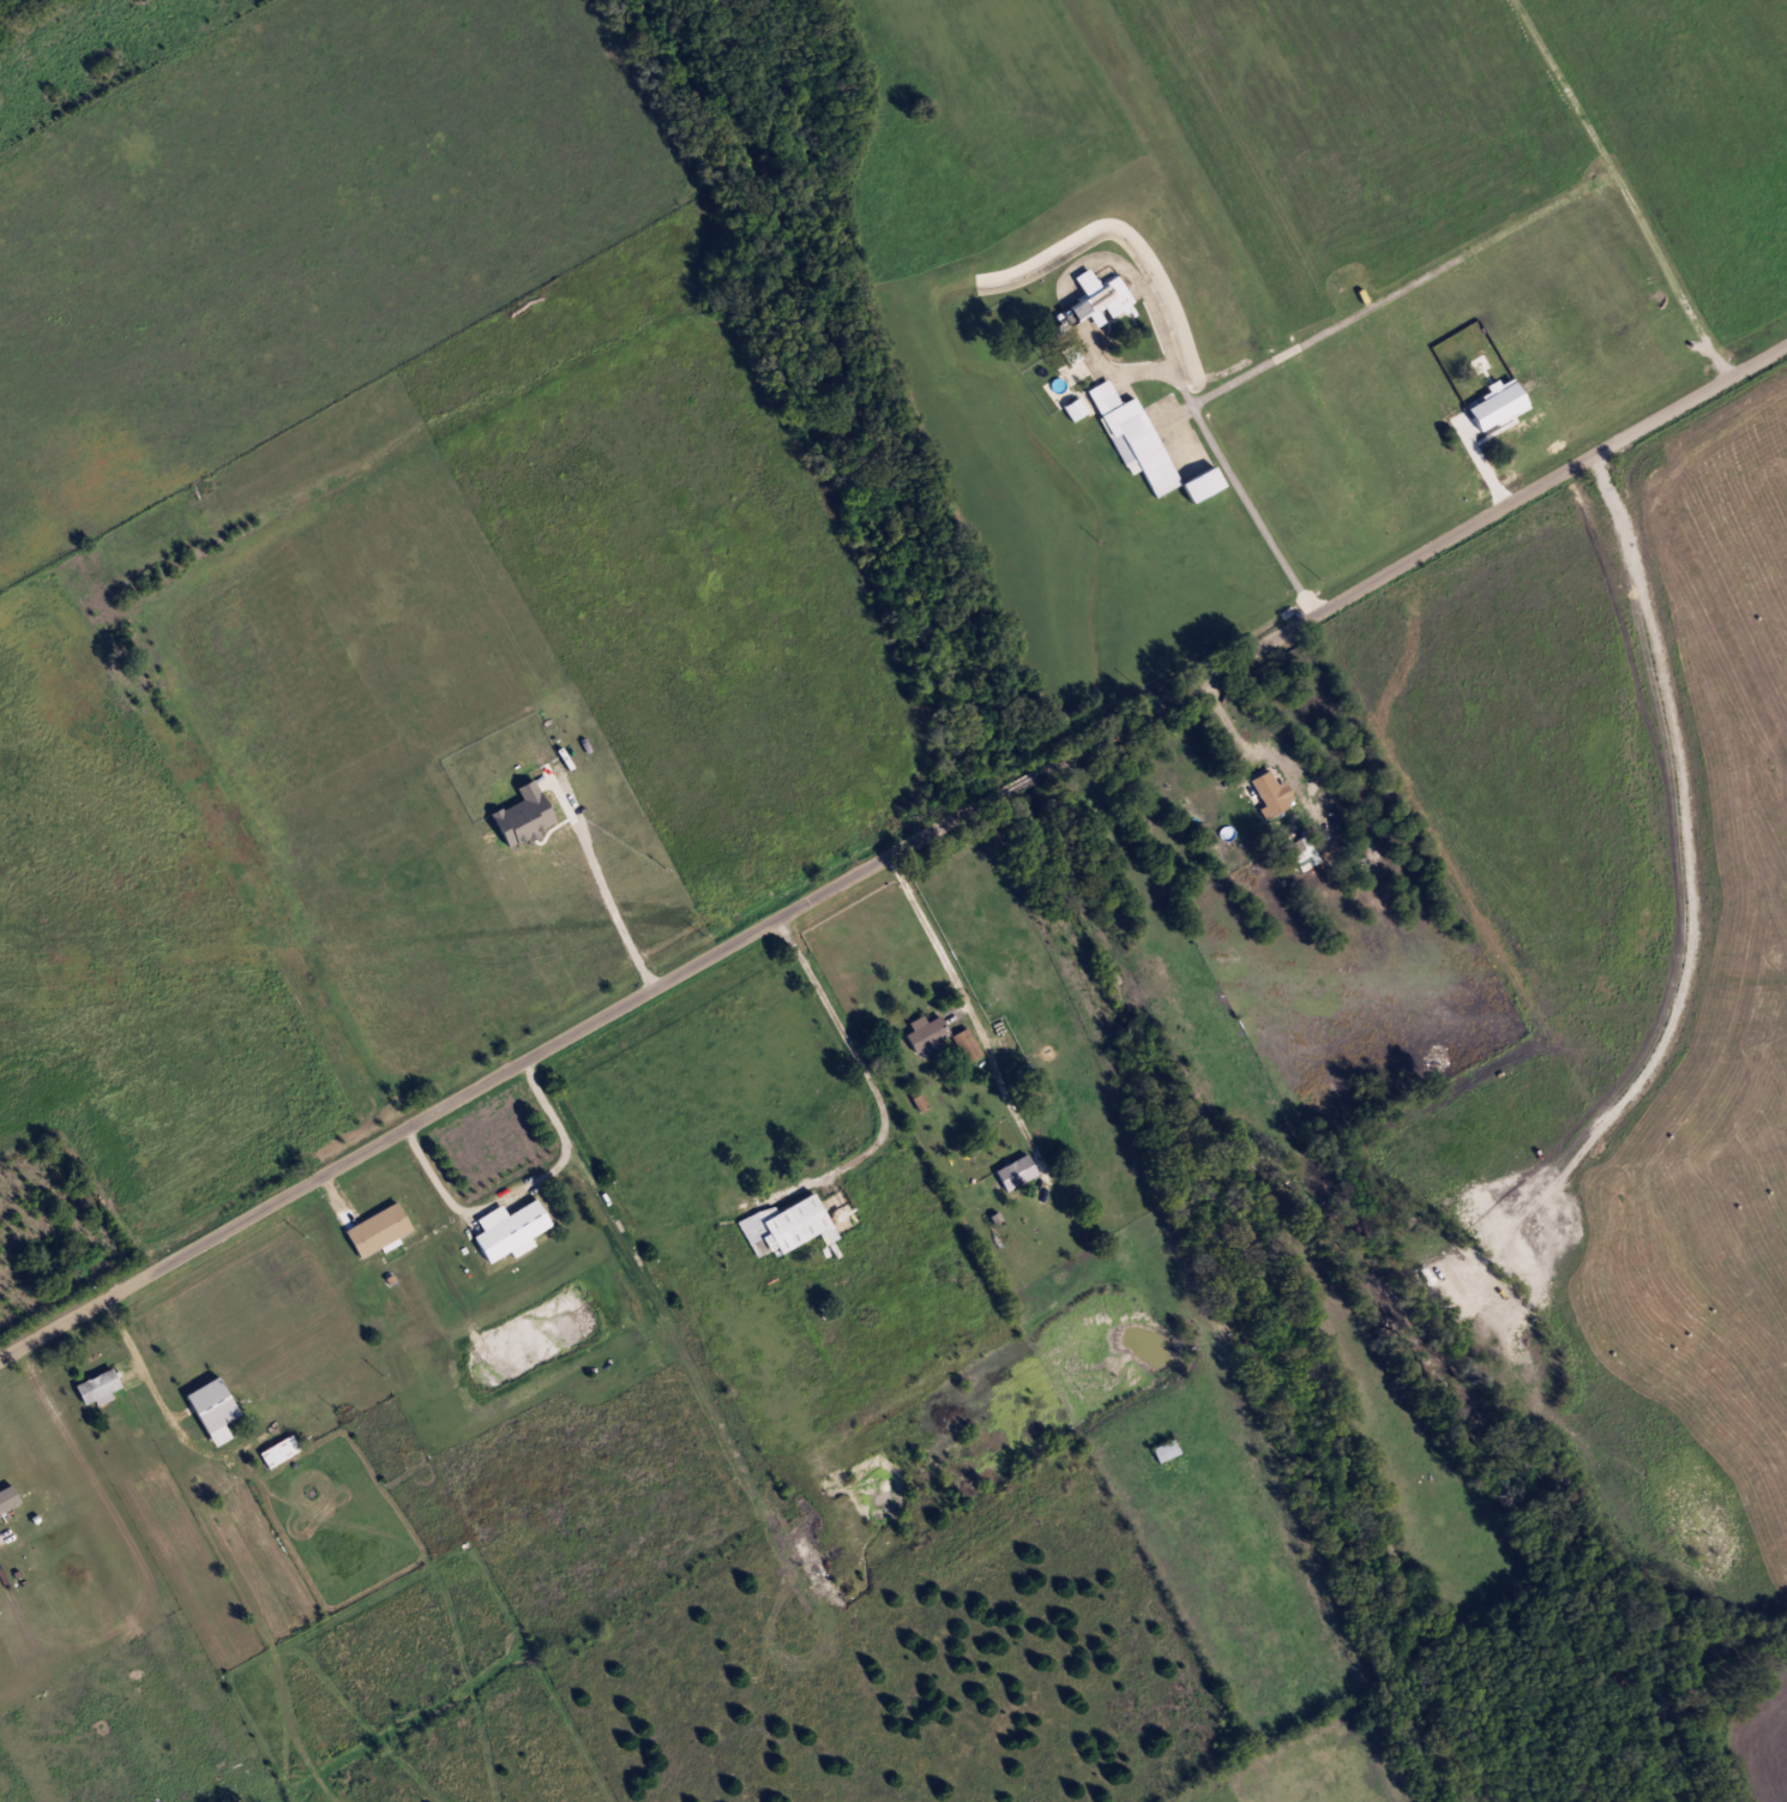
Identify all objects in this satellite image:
road: (1624, 186)
road: (1406, 288)
building: (1102, 290)
building: (1148, 450)
road: (1243, 491)
building: (1266, 792)
road: (895, 854)
road: (607, 897)
road: (974, 1011)
building: (923, 1032)
road: (853, 1043)
building: (964, 1043)
building: (1012, 1171)
road: (519, 1187)
building: (783, 1225)
building: (506, 1229)
building: (96, 1384)
building: (209, 1404)
building: (278, 1449)
building: (1165, 1449)

